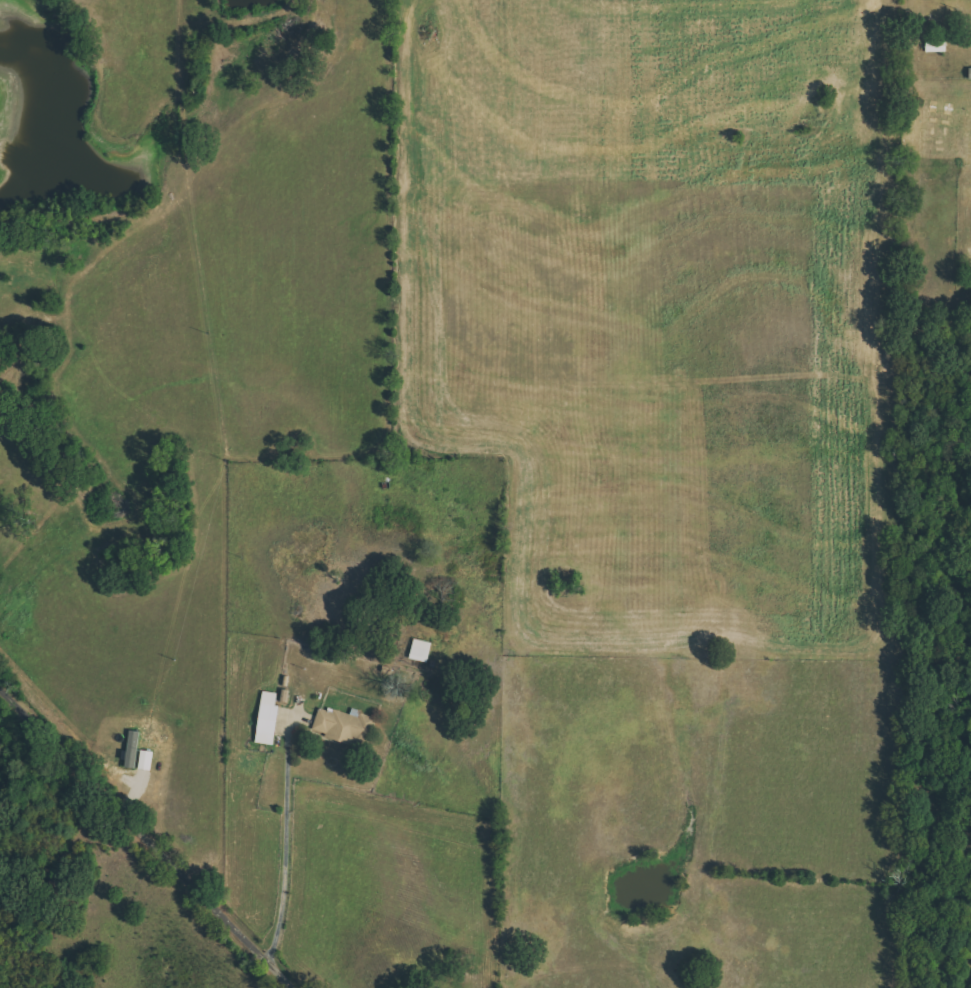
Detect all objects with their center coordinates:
building: (423, 650)
building: (271, 719)
building: (344, 725)
building: (135, 749)
building: (148, 760)
road: (147, 840)
road: (286, 846)

